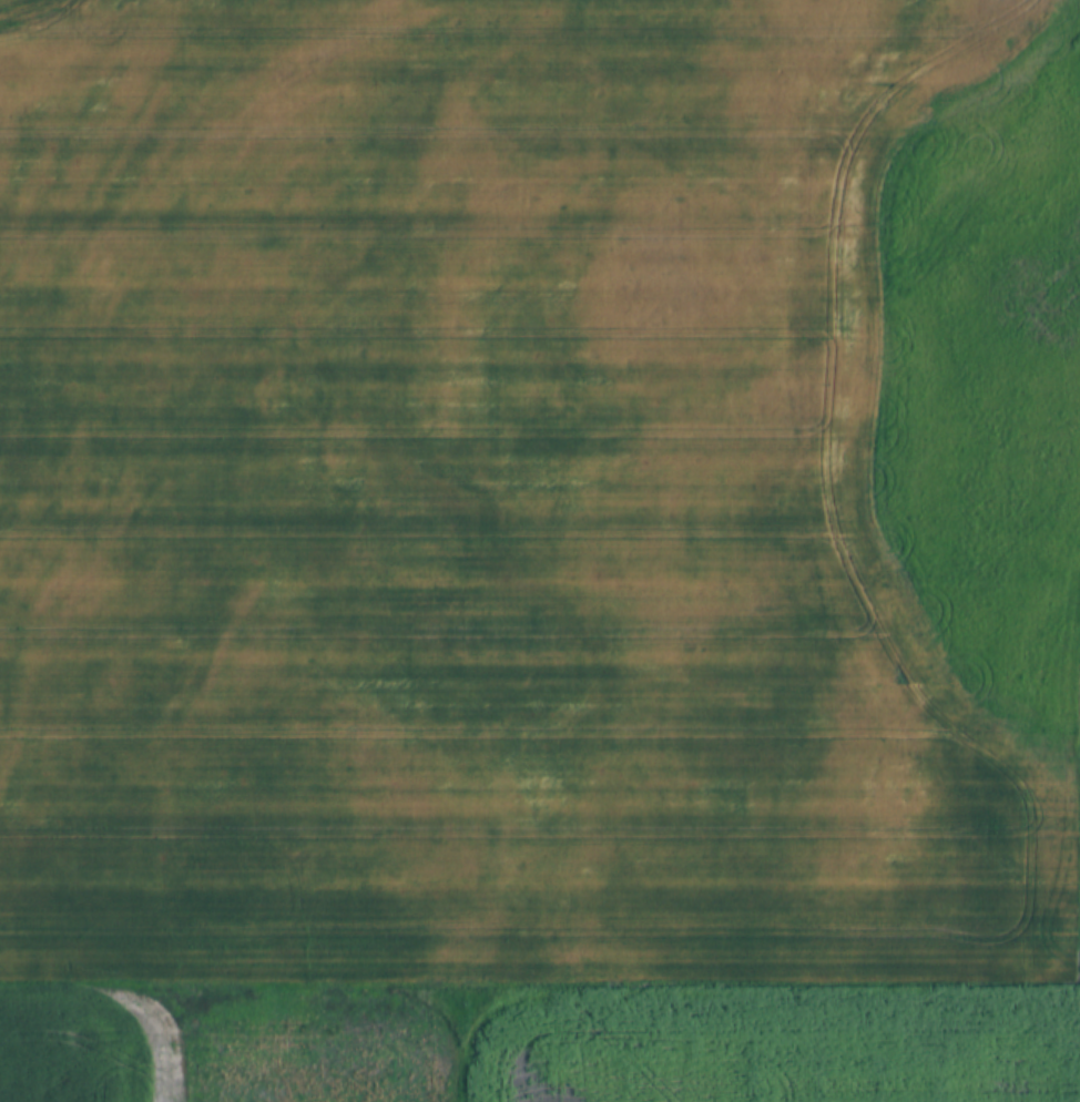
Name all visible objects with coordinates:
road: (540, 987)
road: (478, 1040)

